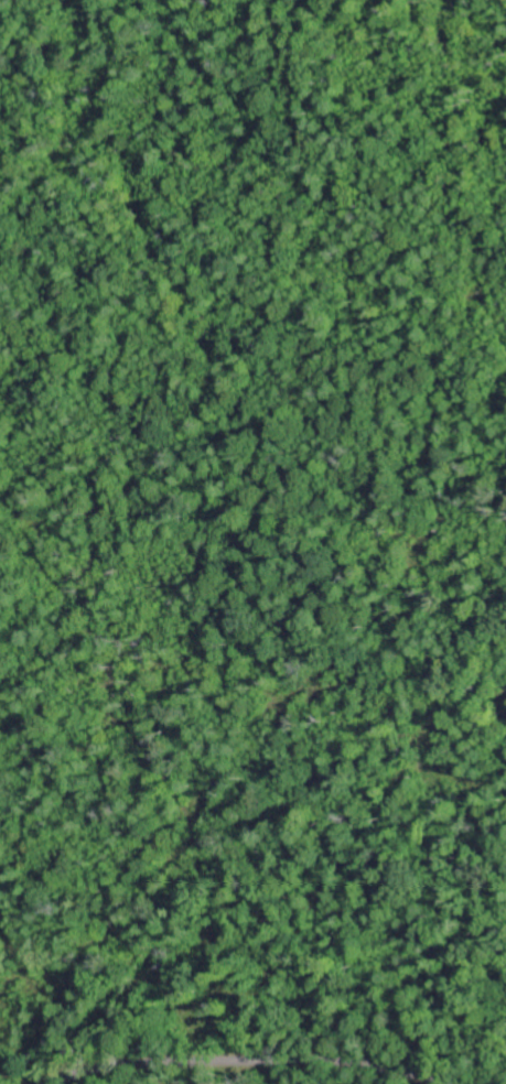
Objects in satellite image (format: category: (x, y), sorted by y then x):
road: (260, 1055)

